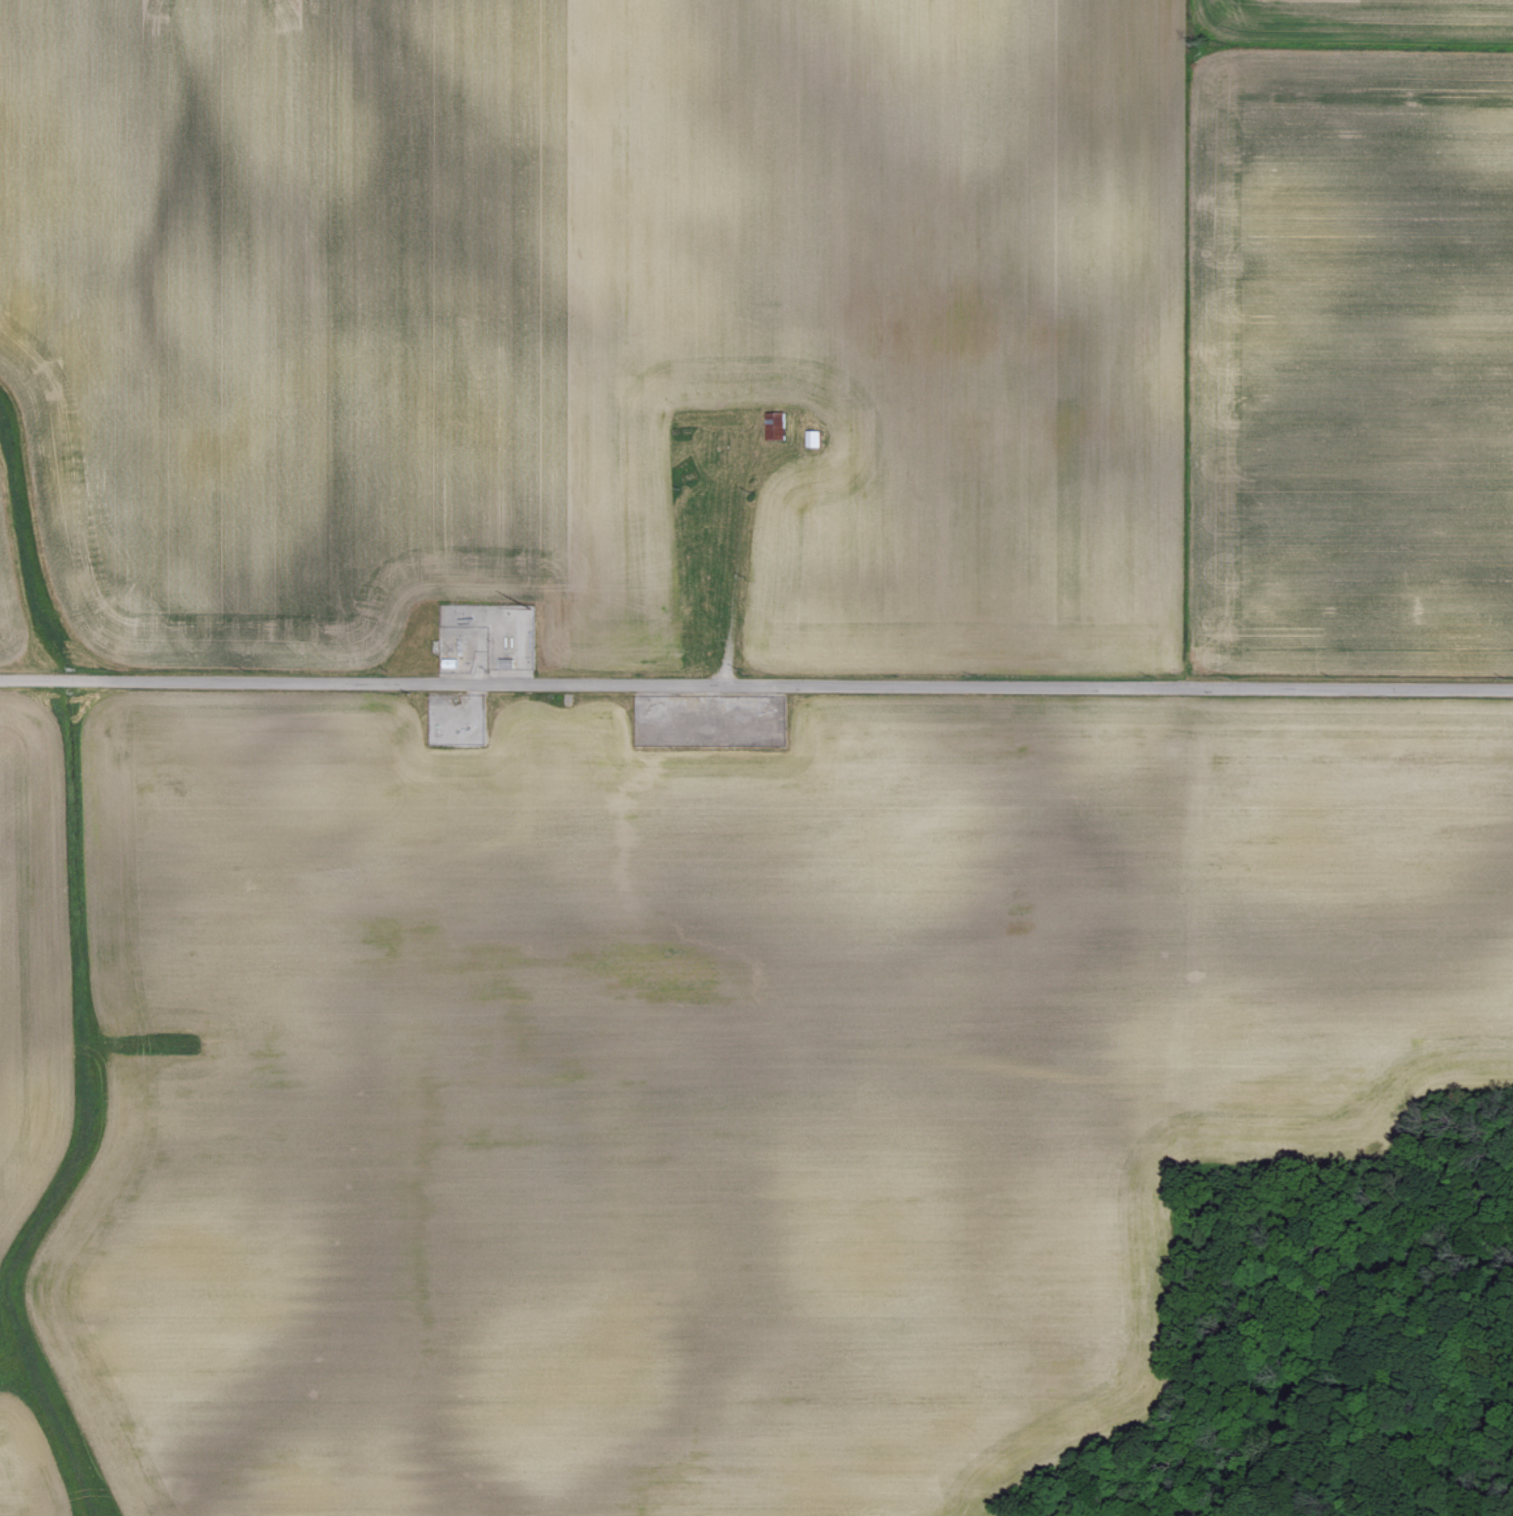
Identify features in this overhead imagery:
building: (775, 426)
building: (813, 439)
building: (450, 663)
road: (756, 685)

